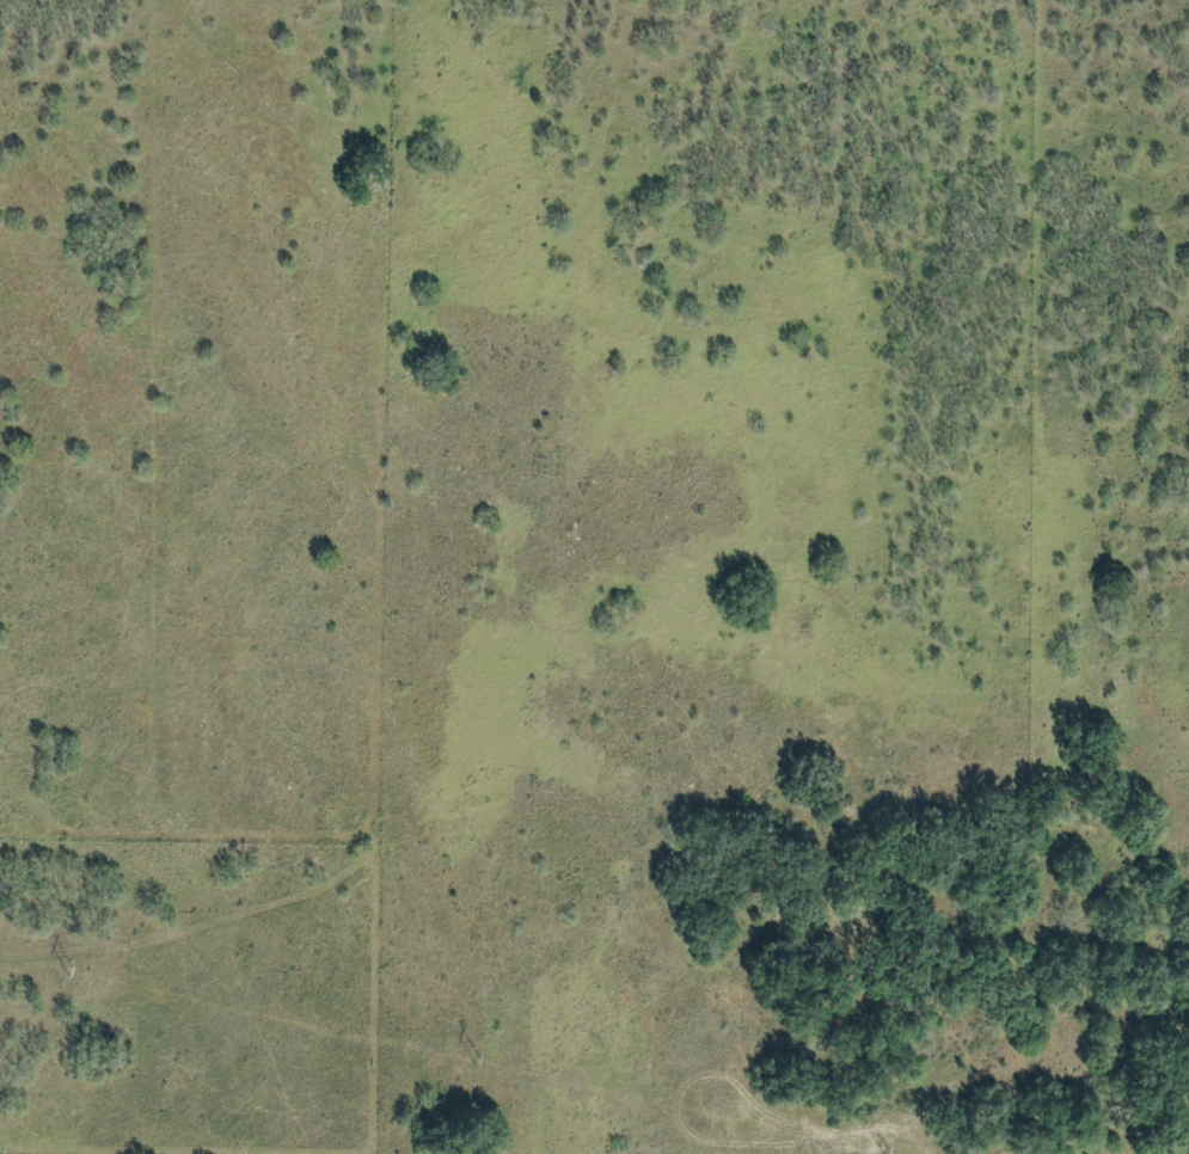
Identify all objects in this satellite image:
power tower: (71, 975)
power tower: (476, 1063)
power tower: (884, 1153)

